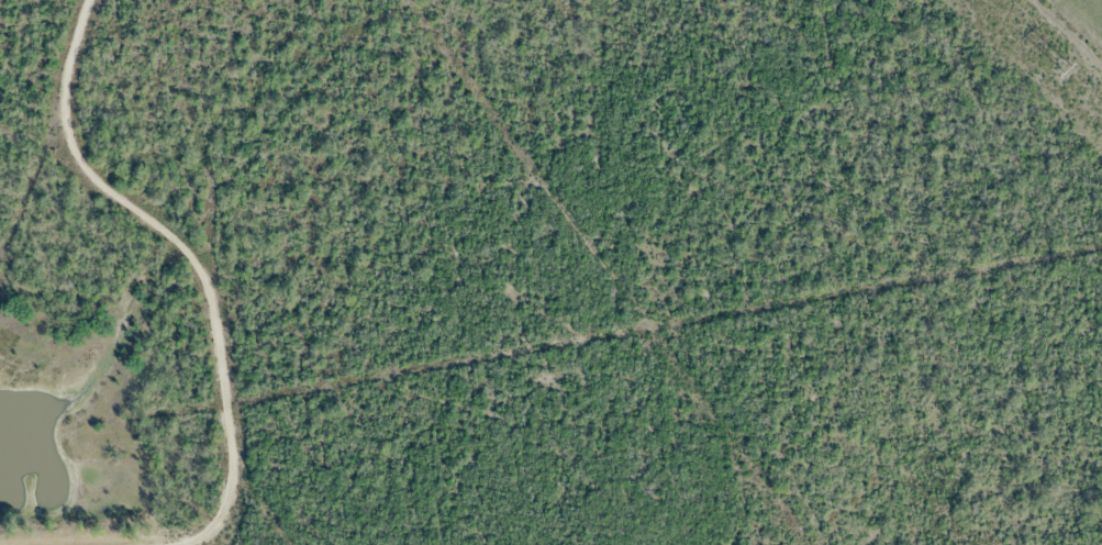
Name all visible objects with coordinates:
power tower: (1067, 70)

